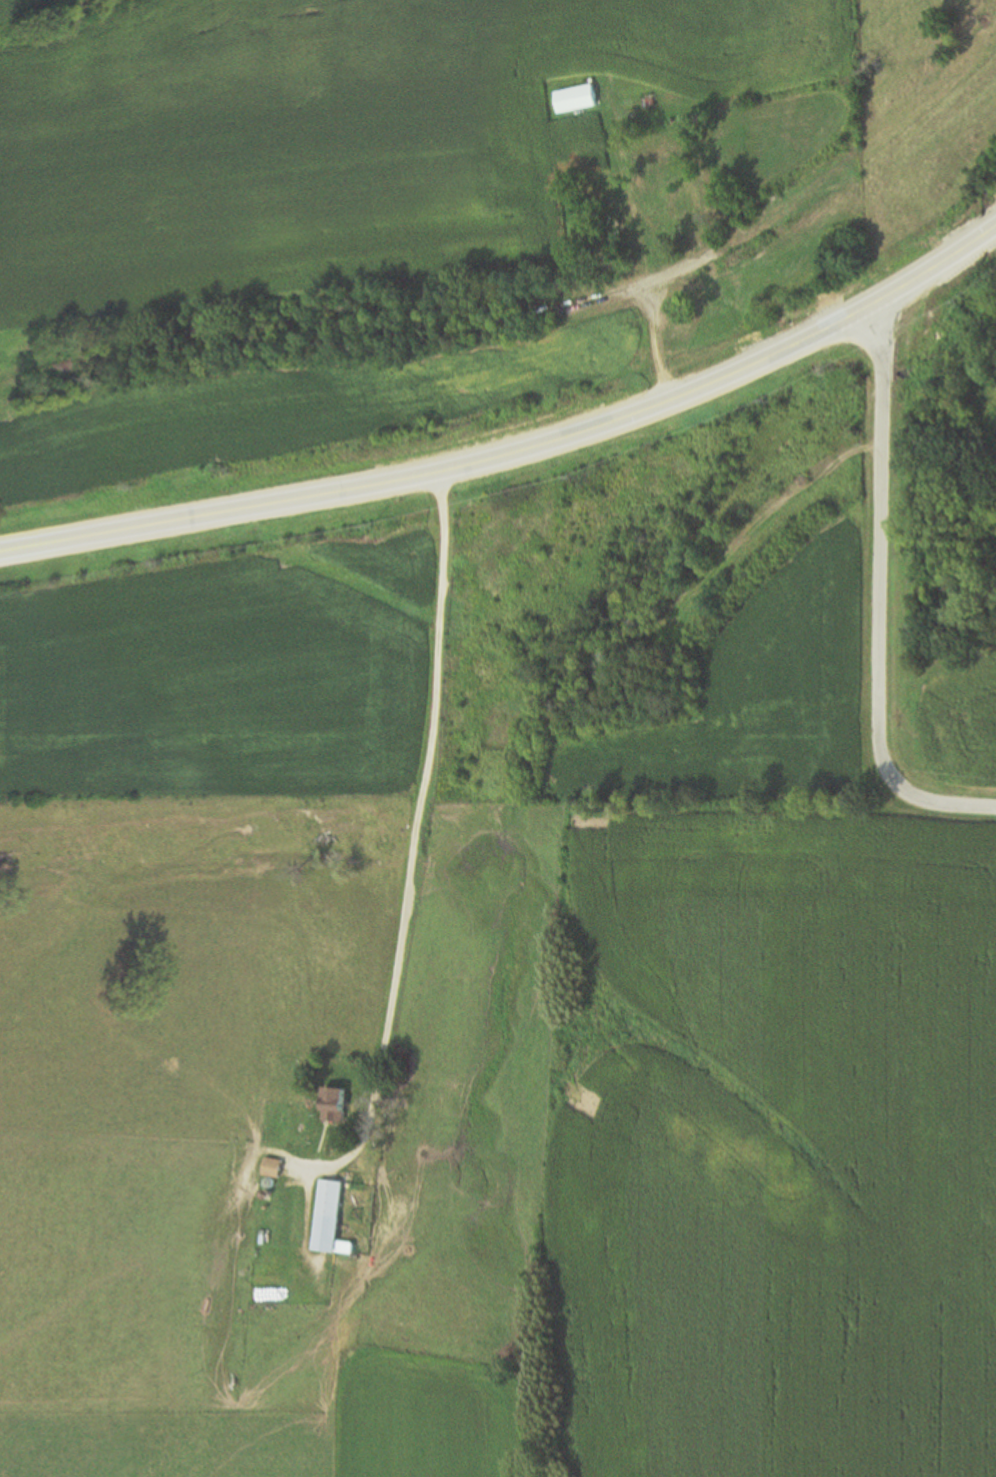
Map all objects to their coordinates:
building: (574, 99)
road: (864, 143)
road: (639, 243)
road: (637, 288)
road: (519, 451)
road: (877, 594)
mineshaft: (664, 683)
road: (412, 844)
building: (332, 1106)
building: (270, 1171)
building: (324, 1221)

